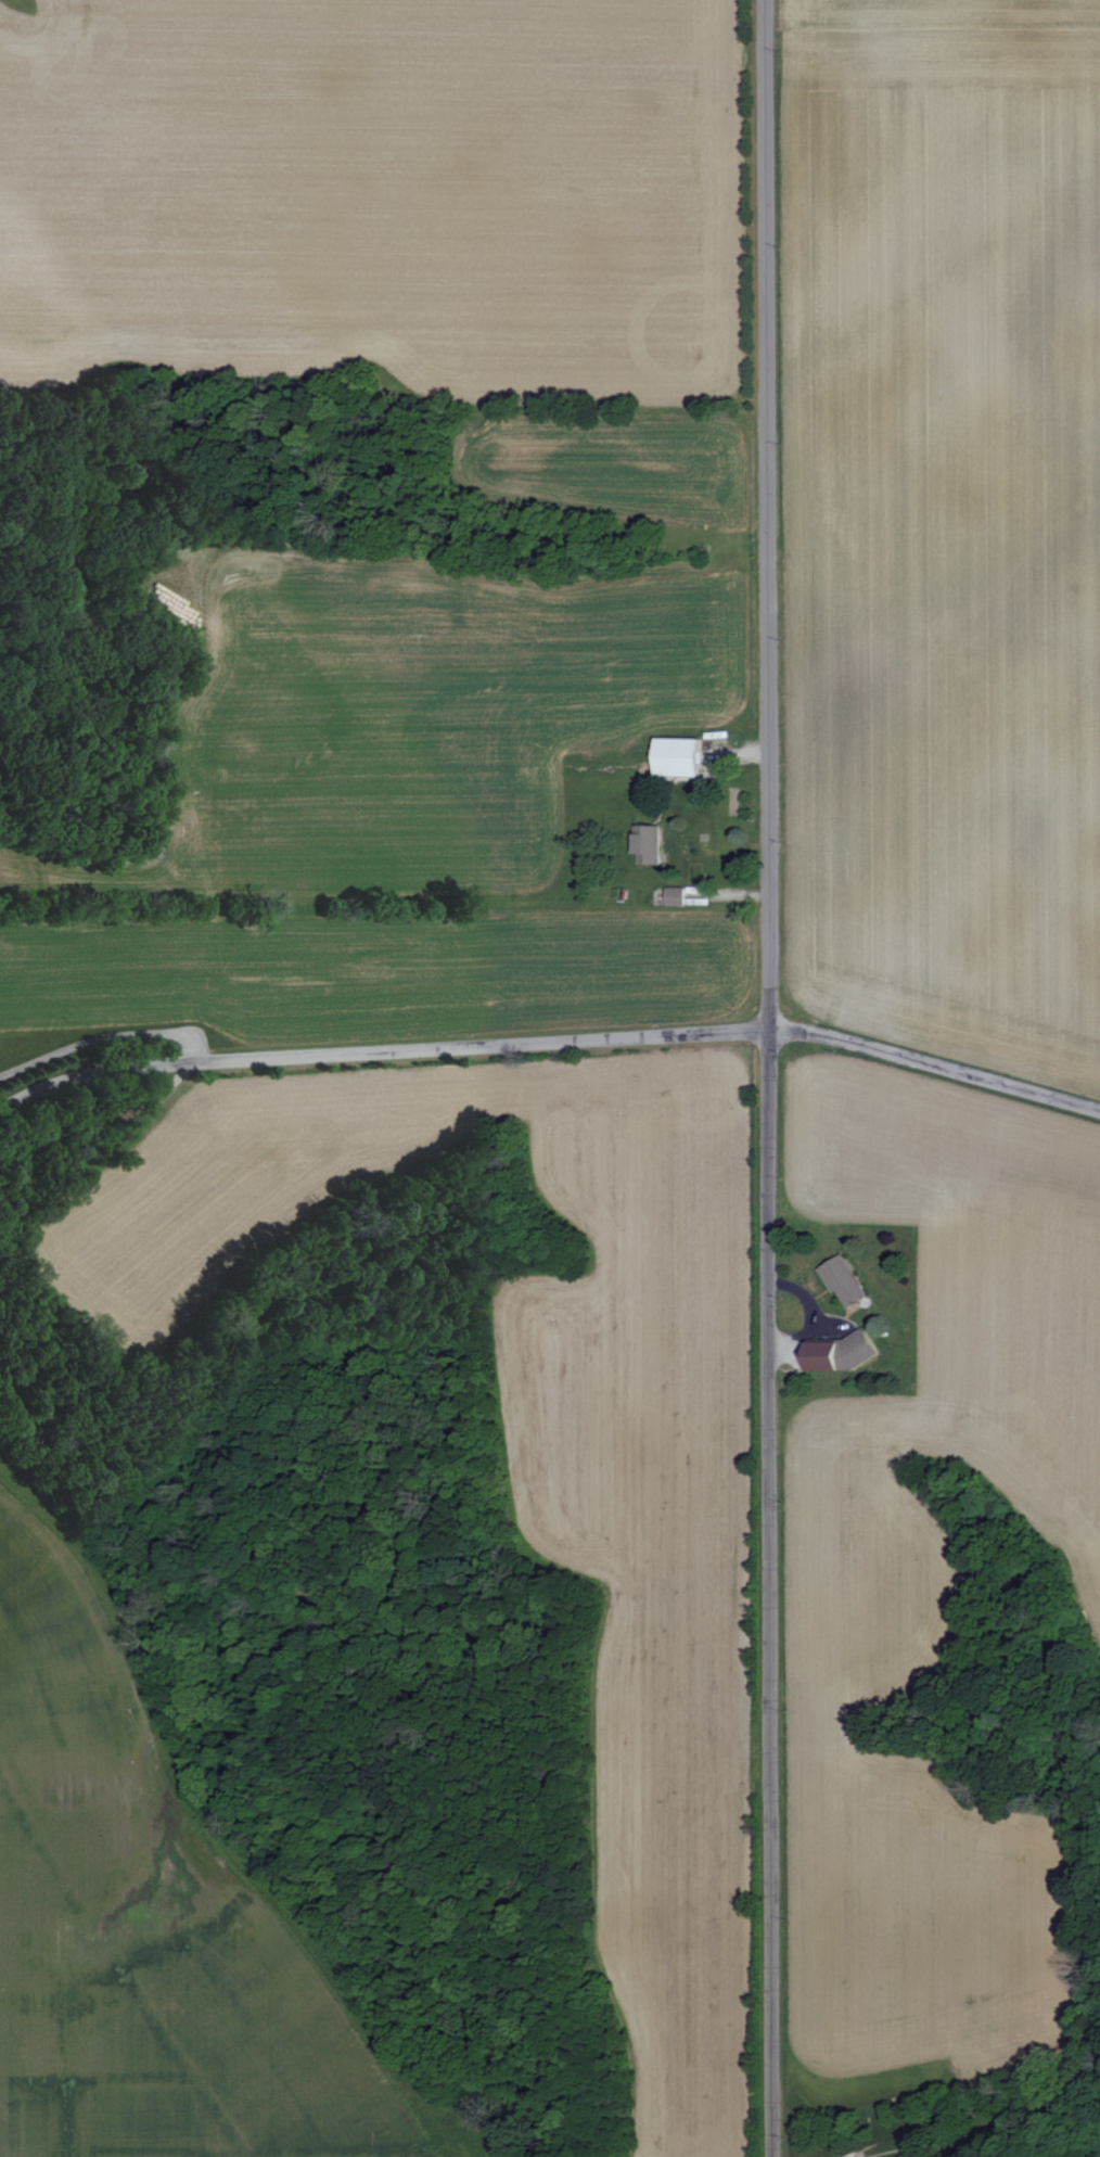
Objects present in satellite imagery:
building: (675, 757)
building: (645, 843)
building: (673, 896)
road: (110, 1038)
road: (380, 1059)
road: (935, 1070)
road: (769, 1078)
building: (841, 1280)
building: (839, 1351)
road: (888, 2156)

